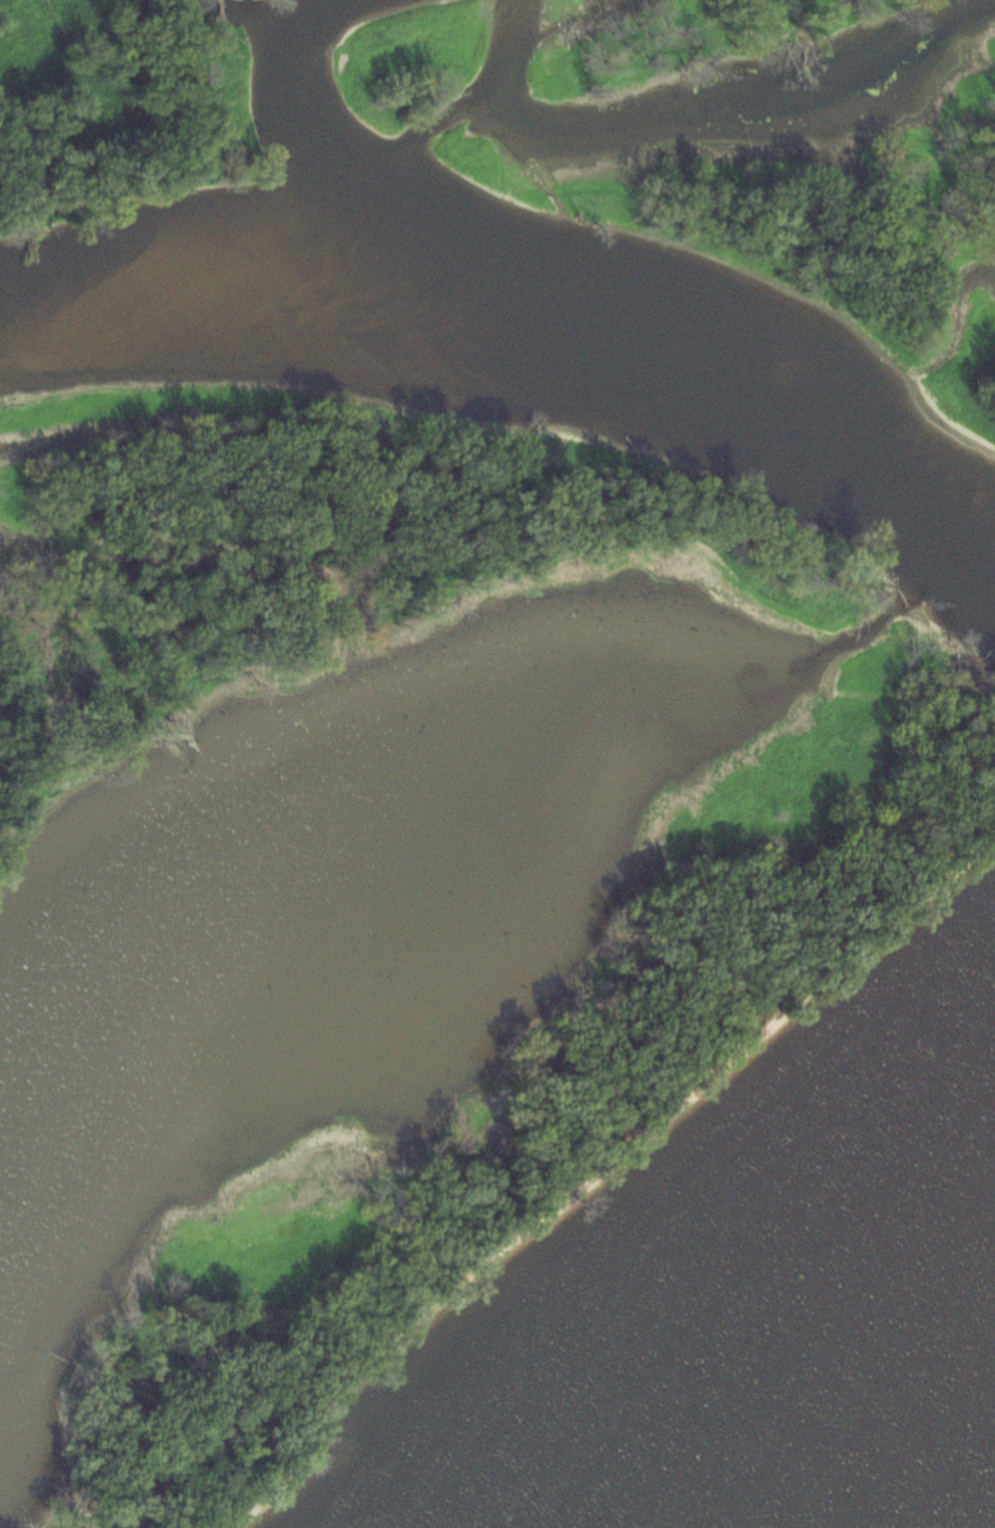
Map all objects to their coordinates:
river: (845, 1419)

